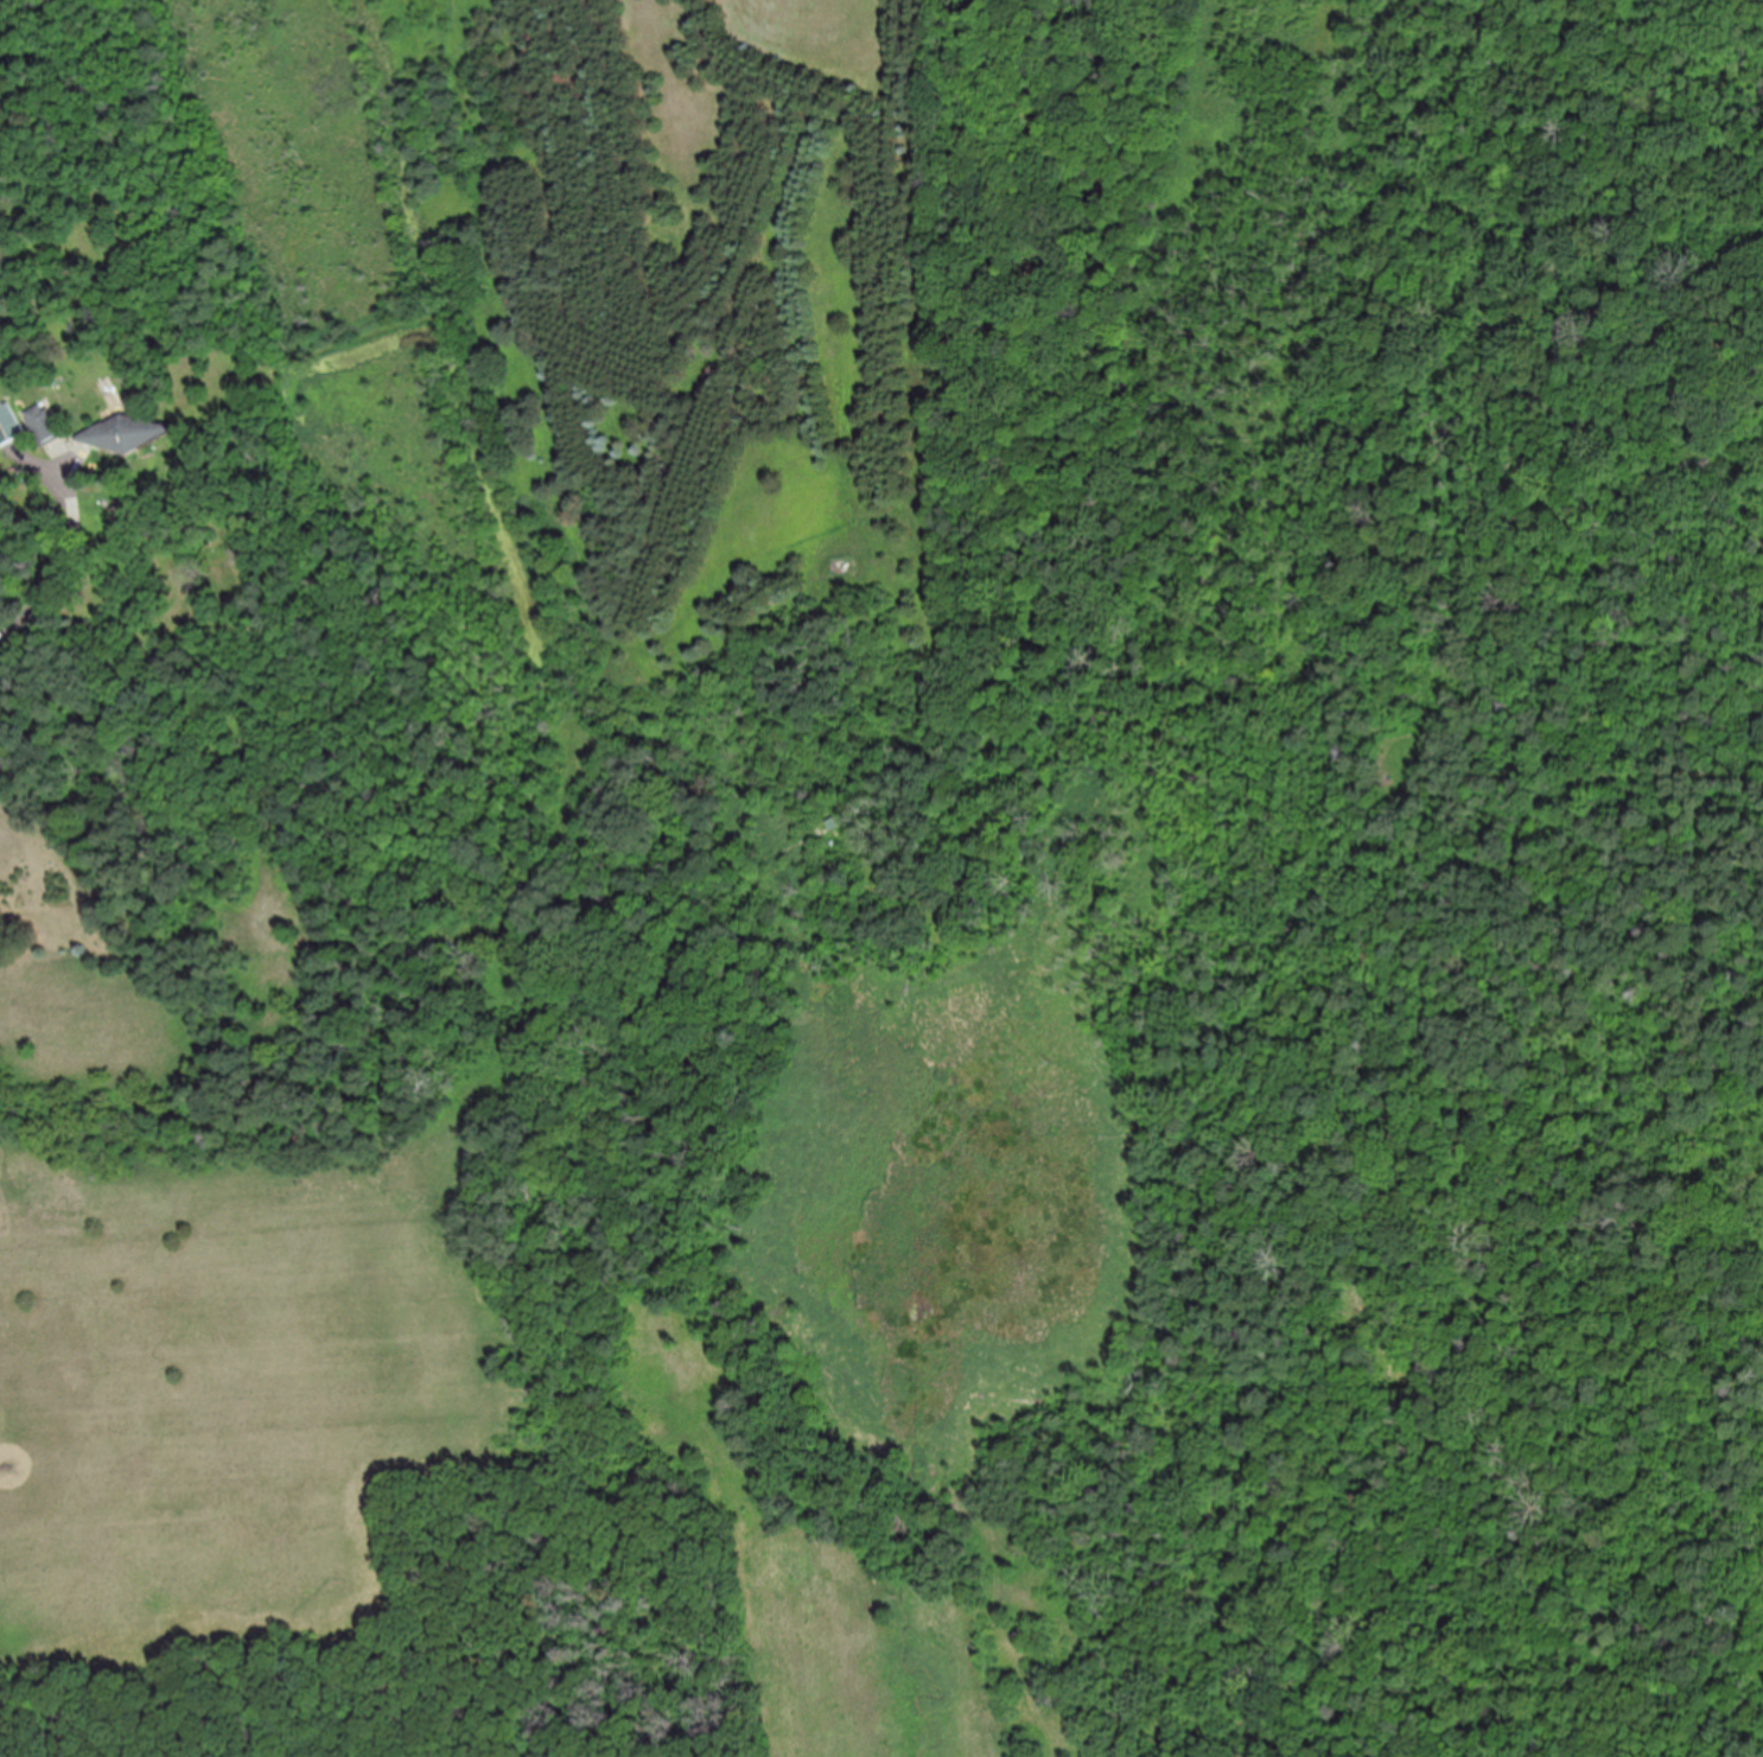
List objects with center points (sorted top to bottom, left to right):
building: (8, 425)
building: (42, 425)
building: (825, 830)

